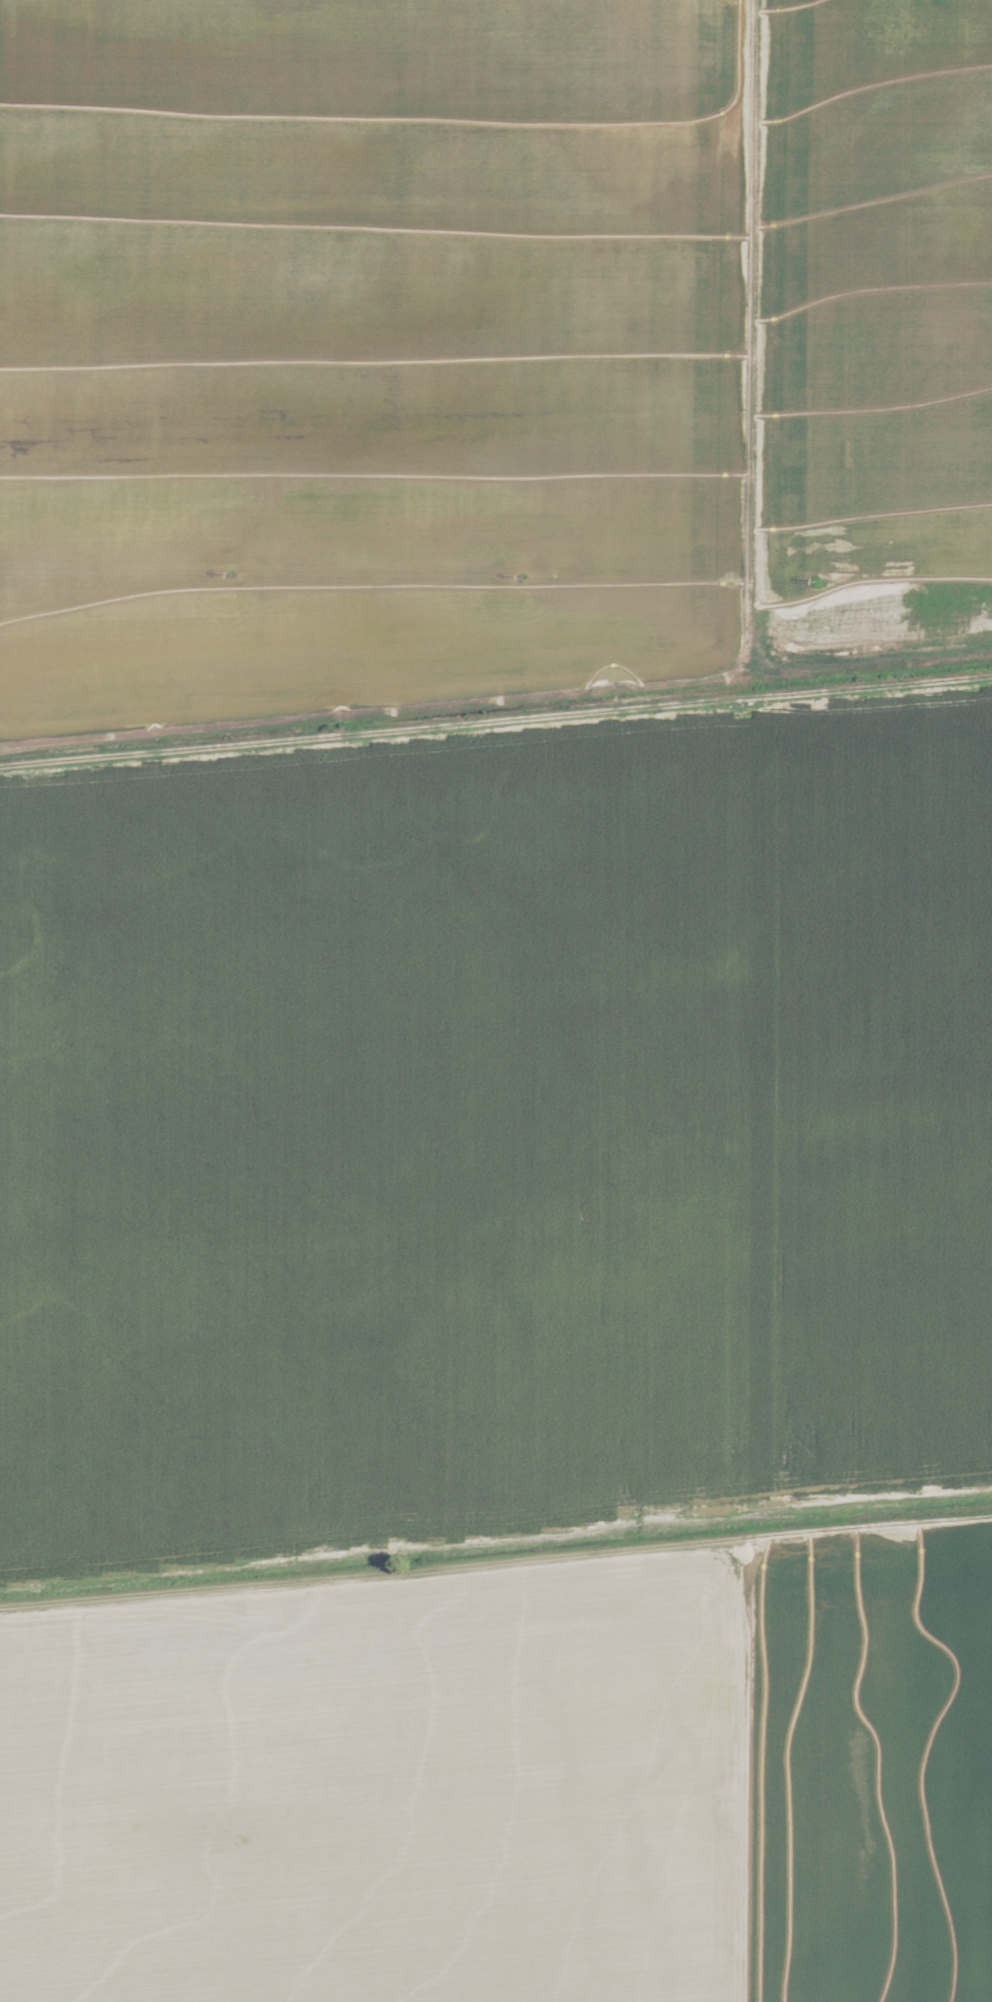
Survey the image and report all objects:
road: (496, 1566)

